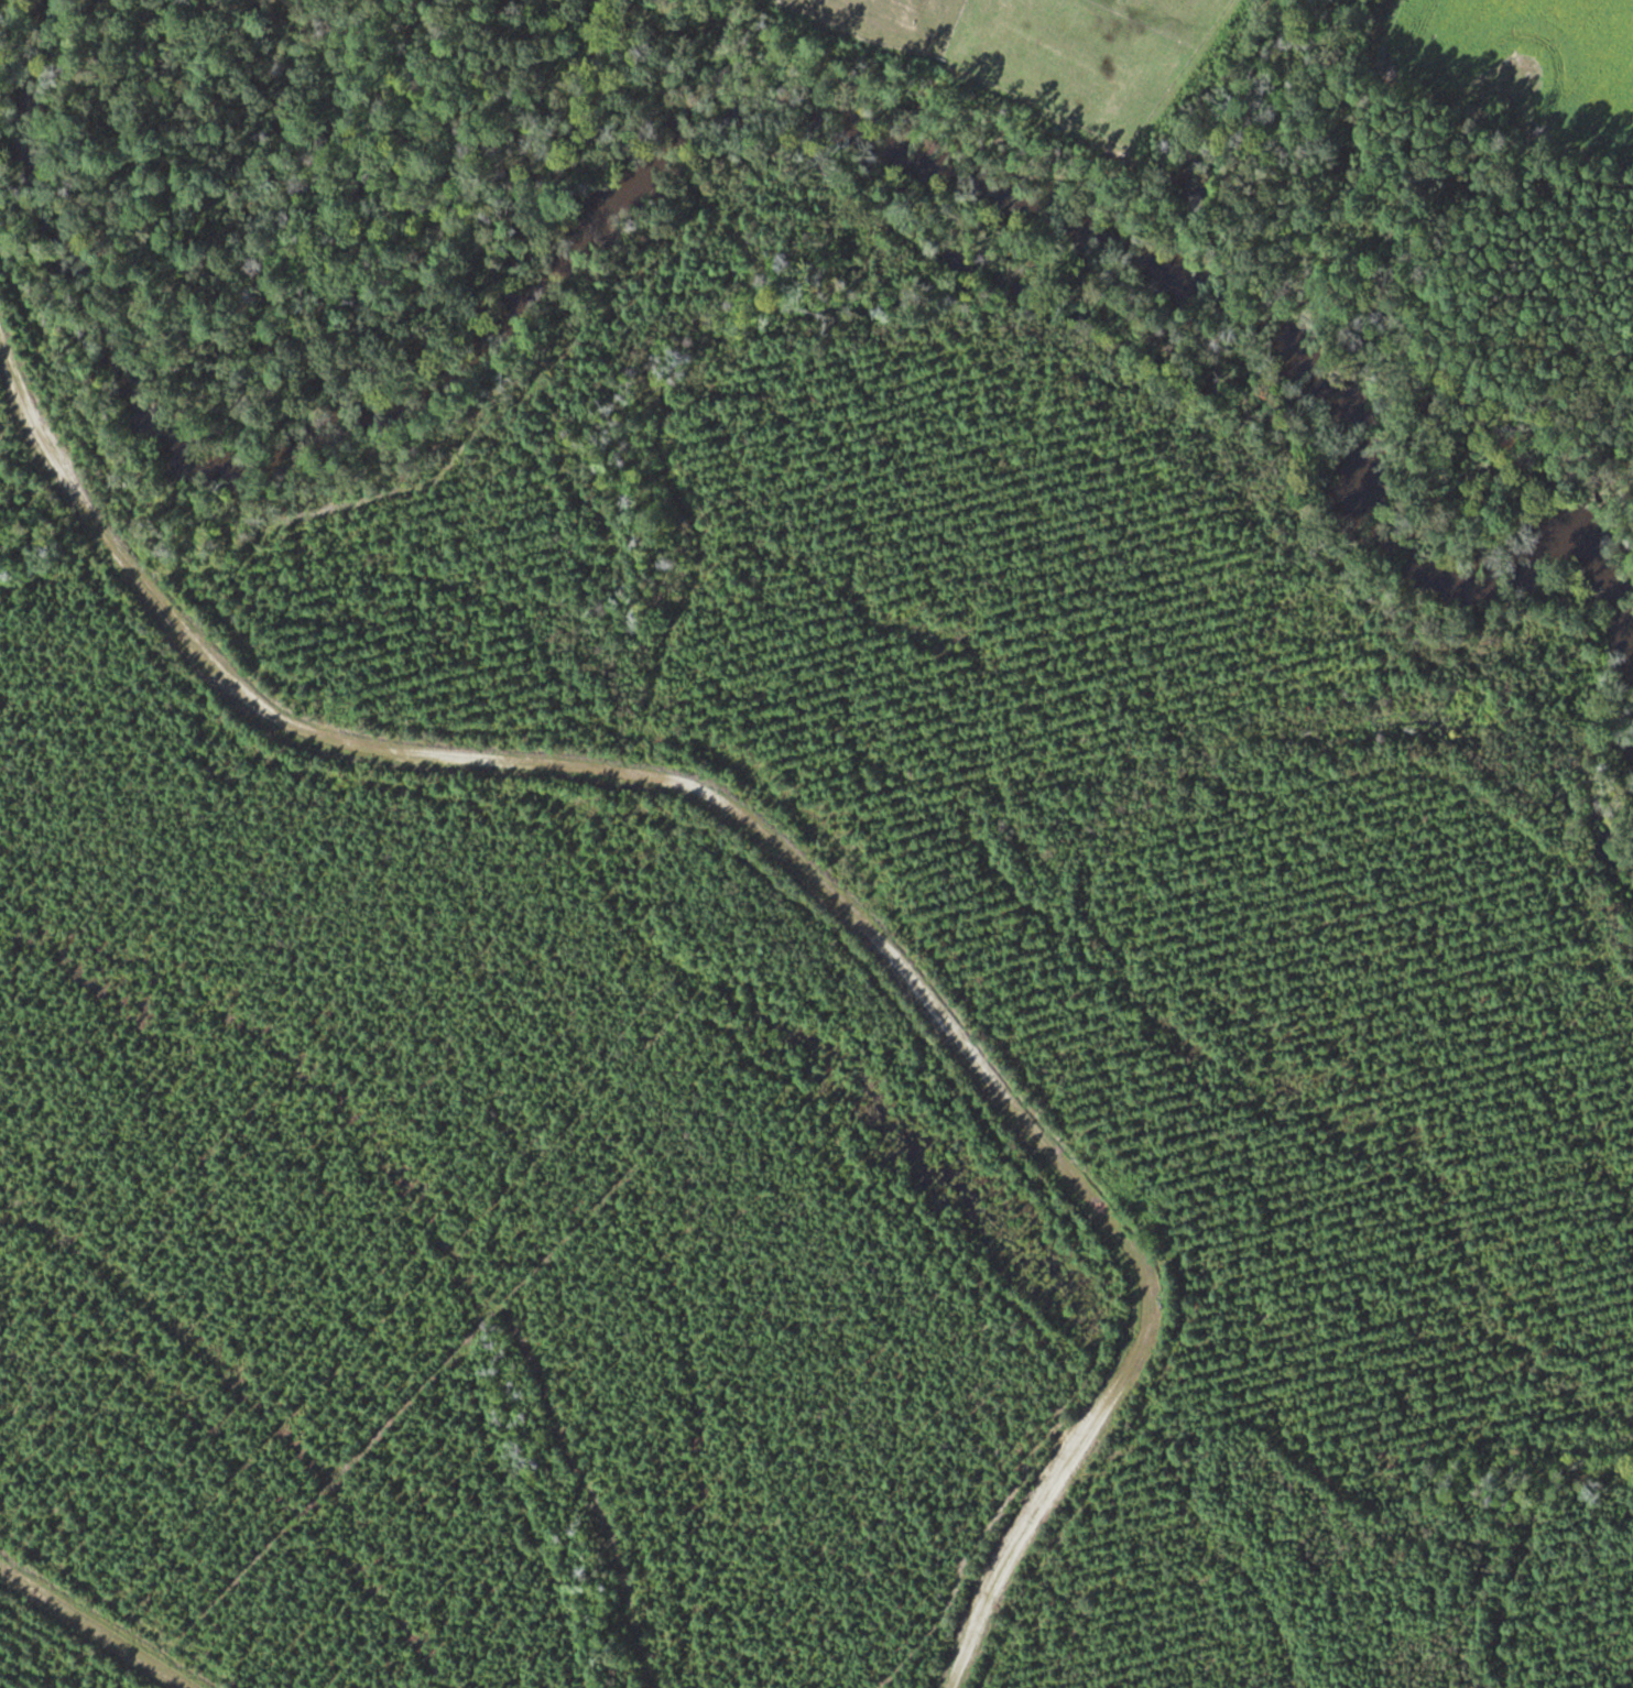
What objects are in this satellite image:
river: (731, 138)
road: (788, 848)
road: (98, 1625)

